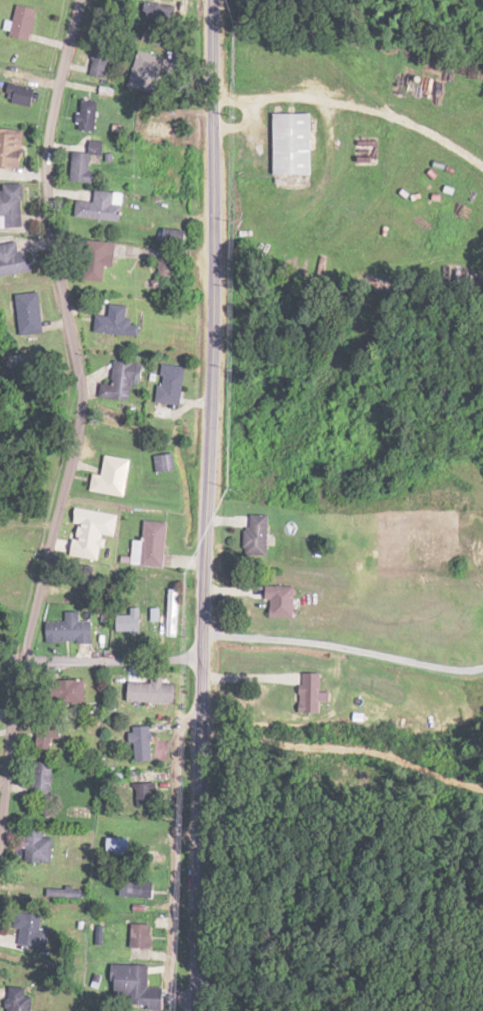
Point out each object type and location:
building: (26, 22)
building: (151, 36)
building: (145, 71)
building: (21, 93)
building: (89, 115)
building: (291, 143)
building: (11, 147)
building: (85, 162)
building: (11, 205)
building: (102, 207)
building: (174, 236)
building: (101, 257)
building: (13, 259)
building: (168, 269)
building: (29, 313)
building: (116, 322)
building: (121, 380)
building: (168, 384)
road: (77, 443)
building: (159, 460)
building: (110, 476)
road: (206, 505)
building: (93, 534)
building: (148, 545)
building: (169, 612)
building: (127, 620)
building: (67, 629)
road: (110, 658)
building: (140, 743)
building: (42, 777)
road: (5, 783)
building: (143, 794)
building: (36, 846)
building: (139, 888)
building: (30, 930)
building: (143, 989)
building: (17, 999)

